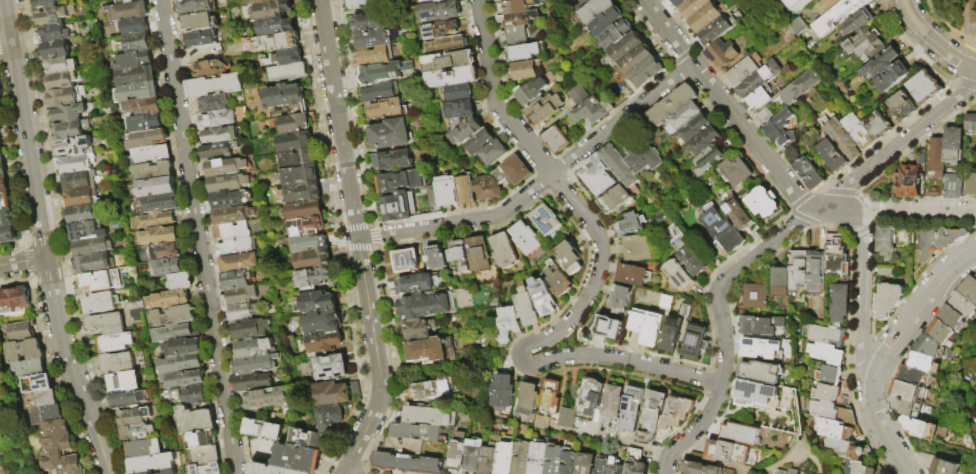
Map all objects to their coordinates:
building: (177, 0)
building: (127, 1)
building: (428, 1)
building: (442, 1)
building: (512, 1)
building: (261, 2)
building: (575, 2)
building: (47, 3)
building: (365, 3)
building: (677, 3)
building: (800, 3)
building: (194, 6)
building: (526, 6)
building: (827, 6)
building: (693, 7)
building: (594, 9)
building: (269, 10)
building: (128, 11)
building: (442, 11)
building: (55, 14)
building: (837, 15)
building: (706, 17)
road: (21, 18)
road: (966, 18)
road: (10, 19)
building: (521, 19)
park: (954, 19)
building: (605, 20)
building: (199, 21)
building: (373, 21)
road: (23, 22)
building: (855, 22)
road: (678, 23)
building: (134, 26)
building: (276, 26)
road: (947, 26)
road: (971, 28)
building: (443, 29)
building: (715, 30)
building: (614, 31)
building: (54, 33)
road: (647, 33)
building: (516, 37)
road: (5, 38)
building: (202, 38)
building: (372, 38)
building: (281, 41)
road: (931, 42)
building: (134, 43)
building: (863, 43)
building: (443, 45)
building: (622, 45)
road: (25, 47)
road: (911, 47)
building: (55, 48)
road: (11, 52)
building: (722, 52)
parking lot: (203, 53)
building: (525, 53)
road: (472, 54)
road: (683, 54)
building: (374, 56)
building: (284, 57)
building: (634, 57)
road: (969, 57)
building: (133, 60)
building: (447, 61)
building: (62, 64)
road: (671, 65)
building: (879, 67)
building: (209, 69)
building: (529, 71)
building: (743, 71)
building: (287, 72)
building: (384, 72)
building: (643, 72)
road: (677, 72)
building: (137, 75)
building: (892, 77)
road: (974, 77)
building: (449, 78)
building: (759, 78)
building: (64, 79)
road: (964, 83)
building: (215, 85)
road: (974, 85)
building: (923, 86)
building: (801, 87)
building: (535, 90)
building: (138, 91)
building: (380, 92)
building: (455, 94)
building: (577, 95)
building: (66, 96)
road: (493, 96)
building: (286, 98)
building: (758, 99)
building: (211, 103)
building: (673, 104)
building: (903, 105)
building: (0, 107)
building: (143, 107)
building: (388, 109)
building: (459, 109)
building: (544, 110)
building: (588, 111)
road: (730, 112)
building: (70, 113)
road: (353, 114)
road: (320, 116)
building: (684, 116)
building: (766, 116)
road: (751, 118)
building: (217, 119)
building: (970, 122)
building: (147, 123)
building: (292, 124)
building: (878, 125)
road: (624, 127)
road: (25, 128)
building: (695, 128)
building: (781, 128)
building: (72, 129)
building: (858, 130)
building: (0, 131)
building: (466, 131)
building: (218, 134)
building: (391, 134)
road: (889, 135)
building: (148, 139)
building: (555, 139)
building: (844, 139)
building: (705, 140)
road: (733, 140)
building: (295, 142)
building: (481, 142)
building: (954, 142)
road: (896, 143)
road: (43, 144)
road: (915, 144)
building: (76, 147)
road: (545, 147)
building: (216, 150)
building: (494, 153)
building: (641, 153)
building: (0, 154)
building: (151, 155)
building: (833, 155)
building: (921, 156)
building: (937, 157)
building: (709, 158)
building: (297, 159)
building: (394, 160)
building: (75, 164)
building: (619, 164)
road: (11, 165)
road: (544, 165)
road: (560, 165)
building: (224, 167)
building: (3, 168)
building: (511, 170)
building: (735, 170)
building: (154, 171)
building: (809, 172)
building: (597, 174)
building: (297, 176)
building: (77, 180)
road: (539, 180)
building: (909, 180)
building: (400, 181)
building: (228, 183)
road: (555, 183)
building: (3, 184)
road: (540, 184)
building: (970, 185)
building: (953, 186)
building: (157, 187)
building: (486, 187)
road: (816, 190)
road: (839, 190)
building: (466, 191)
building: (447, 192)
building: (933, 192)
building: (300, 193)
road: (583, 193)
road: (858, 193)
building: (432, 196)
building: (82, 197)
road: (916, 197)
building: (229, 199)
building: (616, 199)
building: (4, 200)
road: (498, 200)
road: (799, 201)
building: (158, 203)
building: (762, 203)
building: (396, 206)
building: (304, 209)
road: (785, 209)
road: (866, 209)
road: (902, 210)
building: (82, 213)
building: (231, 215)
building: (740, 215)
building: (5, 216)
road: (802, 218)
building: (546, 219)
building: (156, 220)
building: (631, 223)
road: (369, 224)
road: (926, 224)
road: (608, 225)
road: (353, 226)
road: (832, 226)
building: (305, 227)
building: (724, 228)
road: (860, 229)
building: (87, 230)
building: (231, 231)
road: (465, 231)
building: (8, 234)
building: (159, 236)
road: (975, 236)
road: (185, 237)
road: (198, 237)
road: (208, 237)
road: (339, 238)
building: (526, 238)
road: (40, 239)
building: (886, 239)
building: (937, 239)
road: (23, 240)
road: (358, 240)
road: (13, 244)
building: (307, 244)
building: (93, 246)
road: (367, 246)
building: (234, 247)
road: (614, 247)
building: (638, 247)
building: (503, 250)
building: (165, 251)
building: (478, 254)
building: (690, 255)
building: (459, 256)
road: (61, 257)
building: (435, 257)
building: (569, 257)
building: (835, 257)
building: (314, 259)
road: (26, 260)
building: (406, 260)
road: (22, 261)
building: (94, 262)
building: (239, 263)
road: (613, 266)
building: (168, 267)
building: (816, 272)
building: (886, 272)
building: (797, 273)
building: (634, 274)
building: (680, 275)
road: (47, 276)
road: (30, 279)
building: (313, 279)
building: (235, 280)
building: (559, 280)
road: (15, 281)
building: (181, 281)
building: (780, 282)
building: (97, 283)
building: (415, 283)
road: (607, 284)
road: (860, 289)
building: (969, 289)
building: (240, 295)
building: (755, 295)
building: (543, 297)
building: (620, 297)
building: (13, 299)
building: (169, 299)
building: (887, 299)
building: (666, 301)
building: (101, 302)
building: (315, 302)
building: (839, 302)
building: (963, 305)
building: (424, 306)
building: (528, 308)
building: (685, 310)
building: (240, 312)
road: (593, 312)
road: (918, 313)
building: (173, 316)
building: (954, 318)
building: (321, 322)
road: (573, 322)
road: (723, 322)
building: (107, 323)
building: (508, 323)
building: (762, 325)
building: (647, 326)
road: (883, 326)
road: (580, 327)
building: (608, 327)
building: (420, 328)
building: (249, 329)
road: (580, 329)
building: (20, 331)
building: (173, 332)
road: (711, 333)
building: (944, 333)
building: (672, 334)
building: (826, 335)
building: (696, 340)
building: (116, 342)
building: (322, 342)
road: (585, 342)
road: (524, 346)
building: (182, 347)
building: (930, 347)
building: (252, 348)
building: (761, 348)
building: (25, 350)
building: (428, 350)
road: (587, 350)
building: (826, 353)
building: (923, 363)
building: (117, 364)
building: (181, 364)
building: (254, 364)
road: (360, 364)
road: (898, 364)
road: (71, 367)
building: (30, 368)
building: (329, 368)
building: (762, 371)
road: (89, 373)
road: (394, 374)
building: (829, 374)
road: (542, 375)
building: (914, 376)
road: (58, 377)
building: (181, 380)
building: (124, 382)
building: (251, 382)
building: (38, 383)
building: (437, 388)
building: (503, 391)
building: (908, 391)
building: (335, 392)
building: (754, 393)
building: (828, 394)
building: (190, 395)
building: (551, 395)
building: (589, 397)
building: (265, 398)
building: (528, 398)
building: (43, 399)
building: (127, 399)
building: (975, 404)
building: (612, 407)
building: (631, 408)
building: (910, 408)
building: (832, 411)
building: (49, 414)
building: (675, 414)
building: (425, 416)
building: (652, 416)
building: (134, 417)
building: (564, 417)
building: (329, 418)
building: (196, 419)
building: (541, 421)
building: (262, 429)
building: (834, 429)
building: (923, 429)
building: (416, 431)
road: (882, 431)
building: (137, 432)
building: (740, 433)
building: (200, 439)
building: (308, 439)
building: (402, 445)
building: (144, 448)
building: (62, 449)
building: (849, 449)
building: (460, 451)
building: (730, 452)
building: (204, 455)
building: (475, 455)
building: (523, 457)
road: (693, 457)
building: (298, 458)
building: (507, 458)
building: (540, 458)
building: (490, 459)
building: (555, 460)
building: (571, 461)
building: (637, 462)
building: (151, 463)
building: (408, 463)
building: (587, 463)
building: (604, 466)
building: (618, 467)
building: (944, 467)
building: (700, 468)
building: (861, 468)
building: (207, 469)
building: (271, 469)
road: (363, 471)
building: (162, 472)
building: (787, 472)
road: (362, 473)

